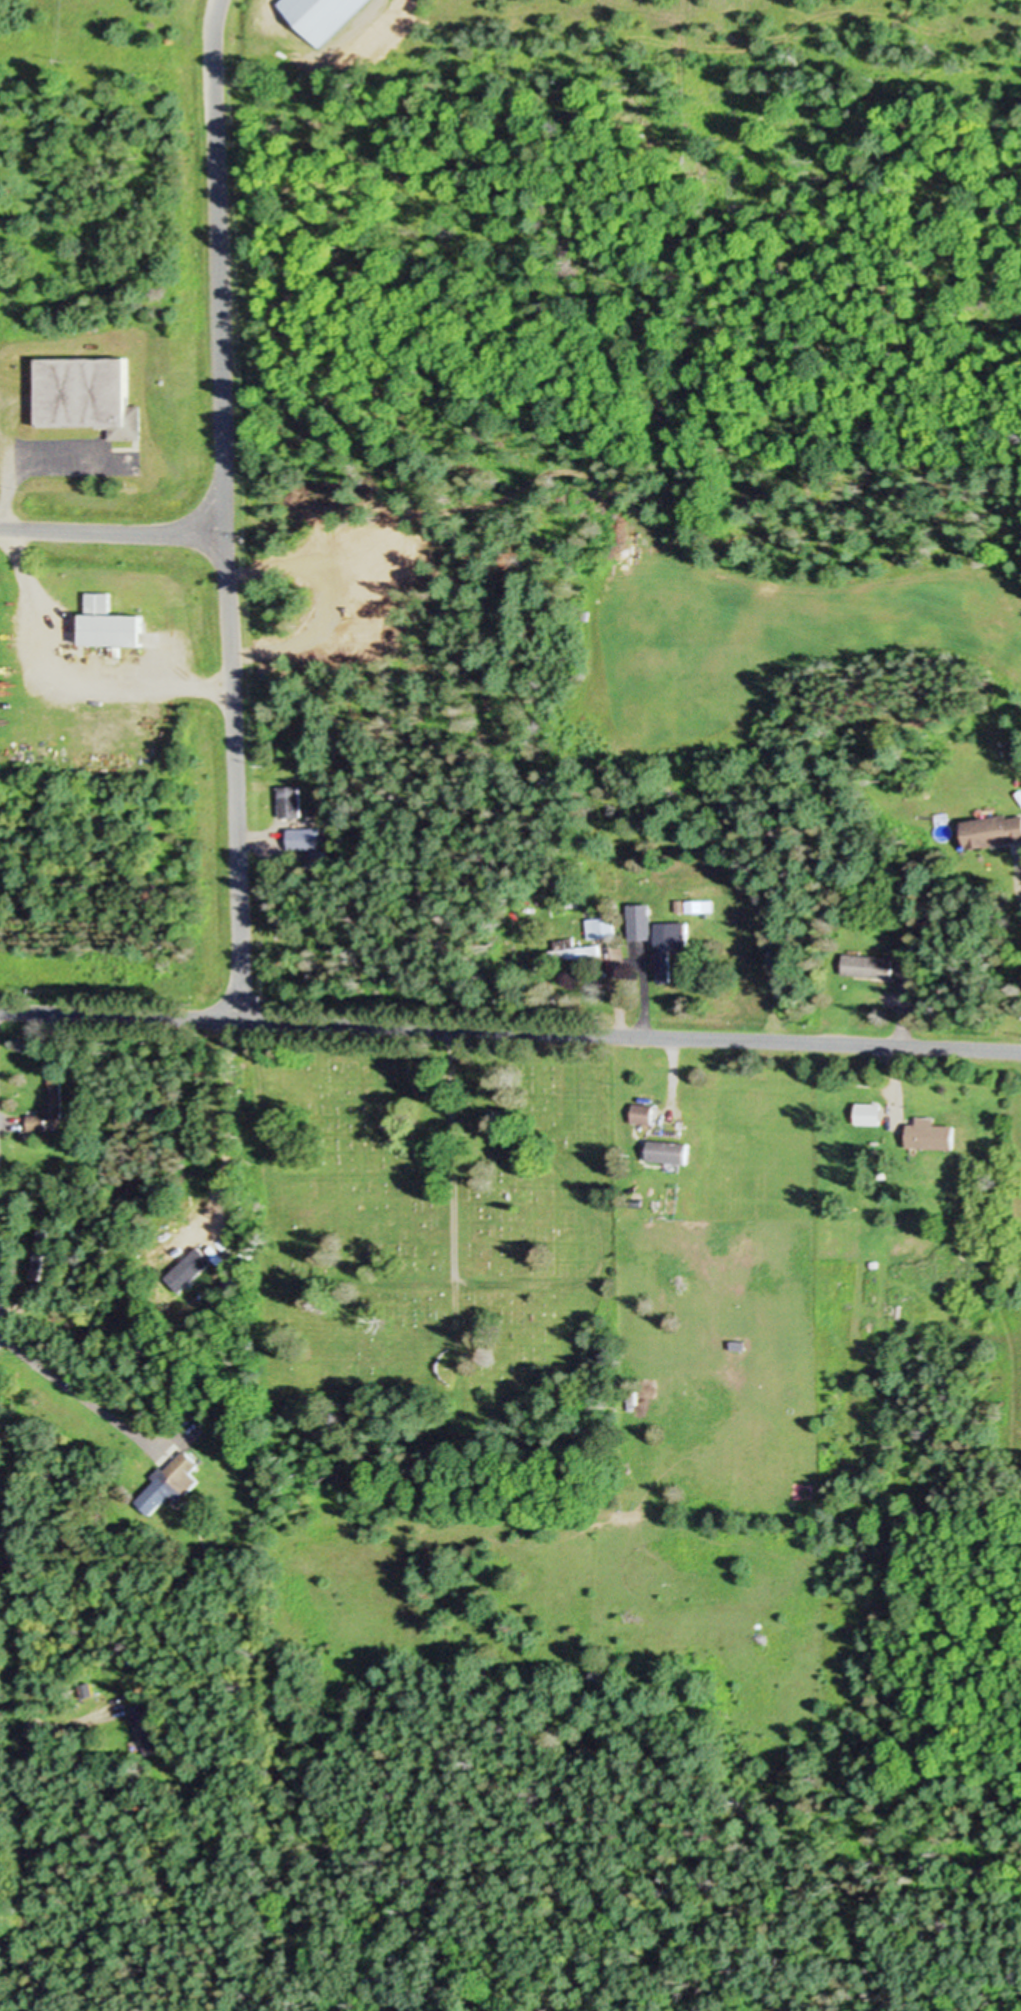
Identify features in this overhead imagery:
road: (225, 509)
road: (112, 530)
road: (50, 647)
road: (1018, 895)
road: (614, 999)
road: (643, 1000)
road: (510, 1030)
road: (899, 1054)
road: (672, 1069)
road: (224, 1130)
park: (435, 1259)
road: (73, 1393)
road: (19, 1677)

